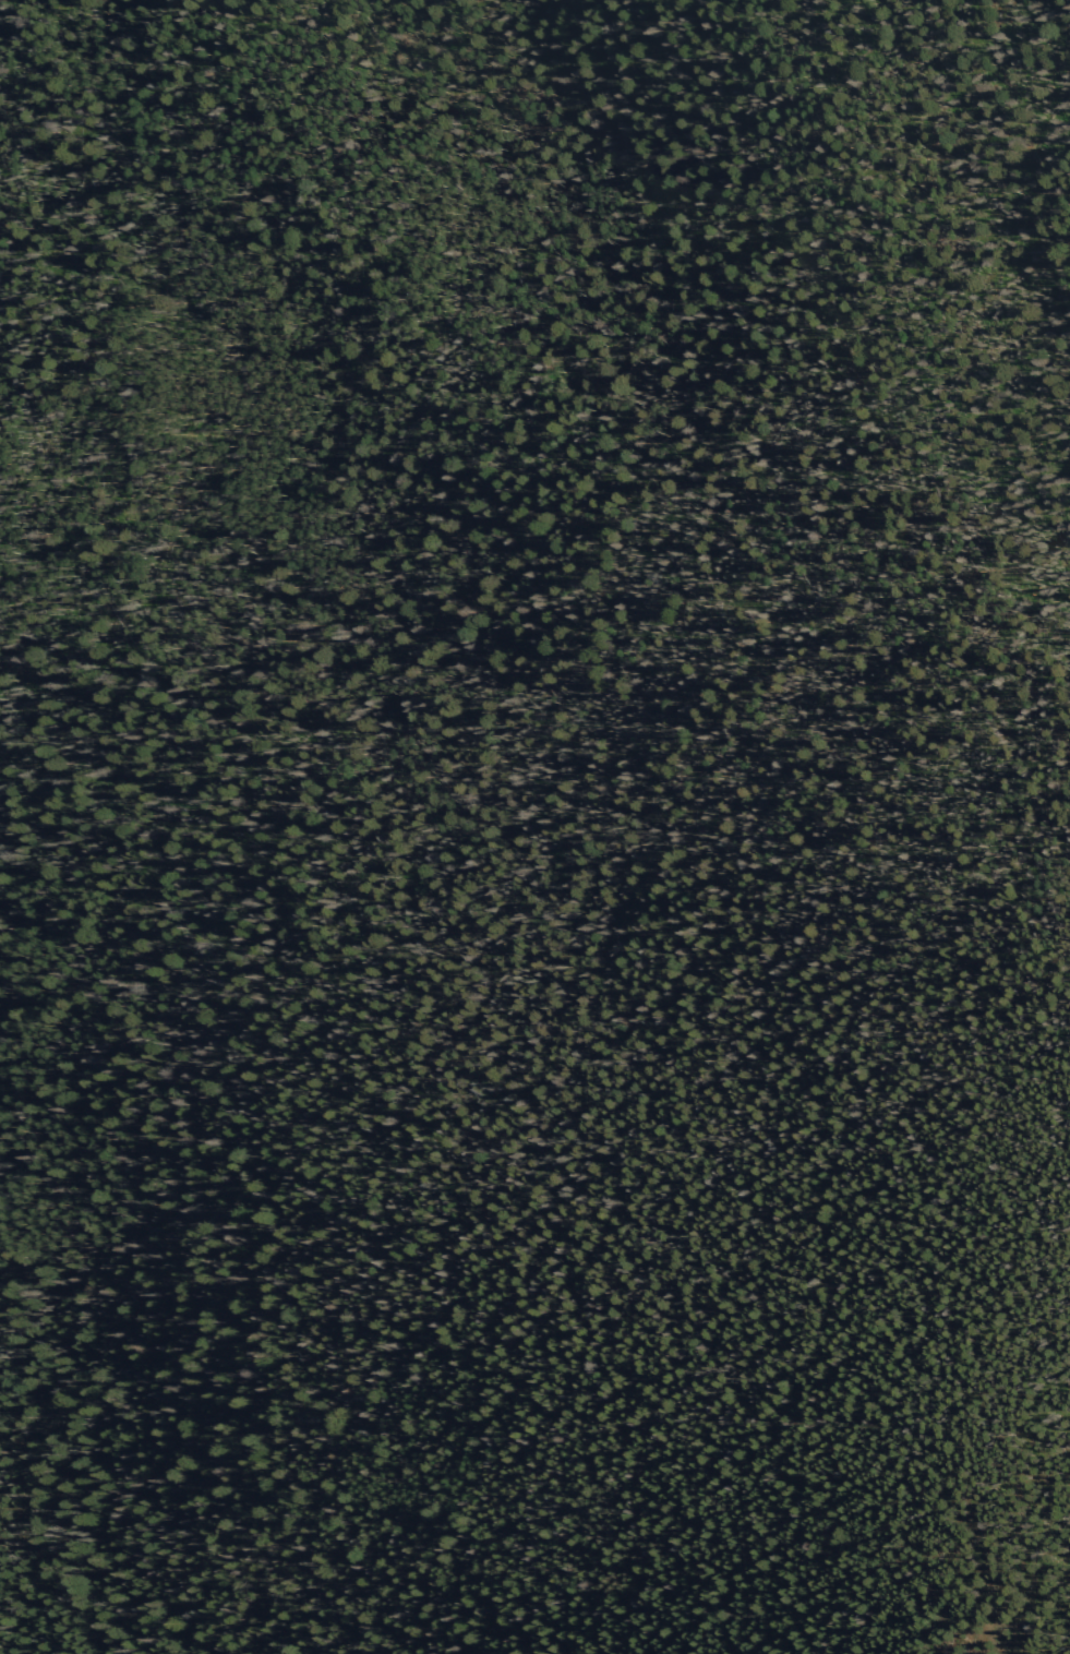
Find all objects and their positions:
ski resort: (1037, 1196)

